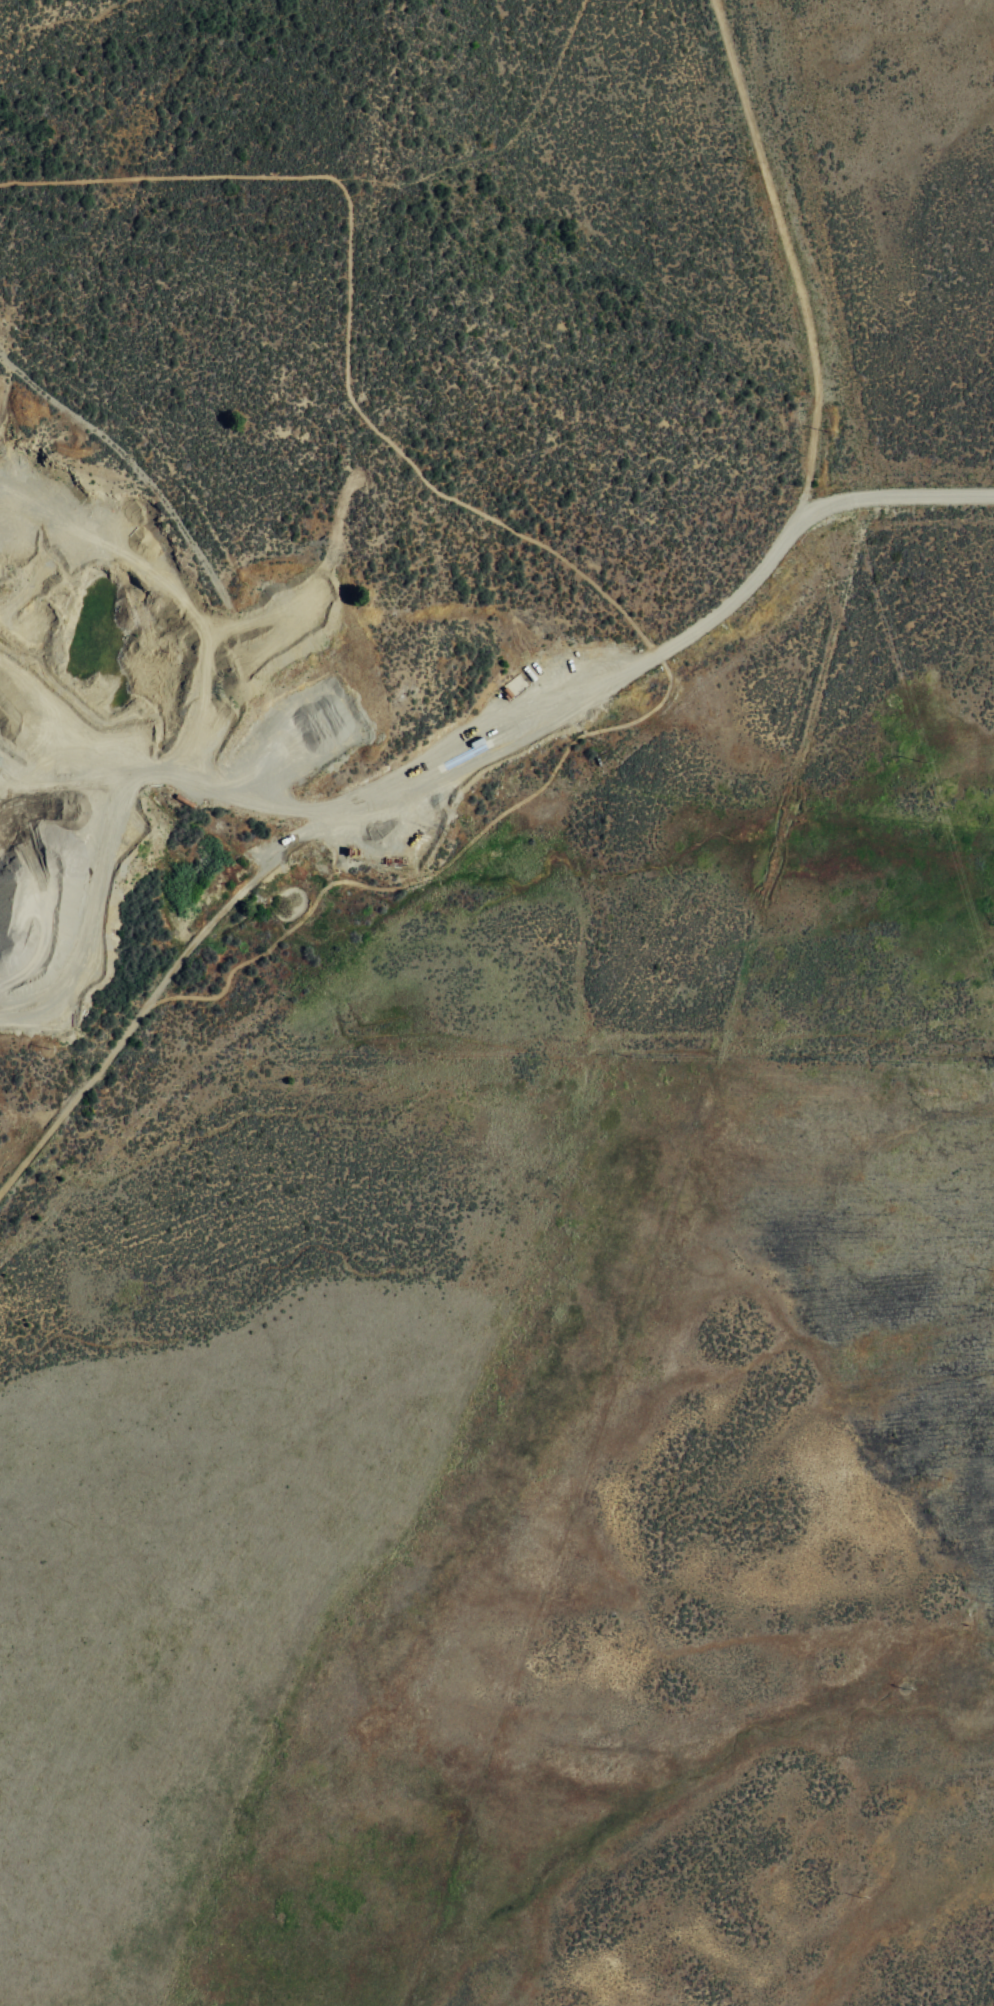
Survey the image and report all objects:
quarry: (236, 703)
crop: (522, 1032)

